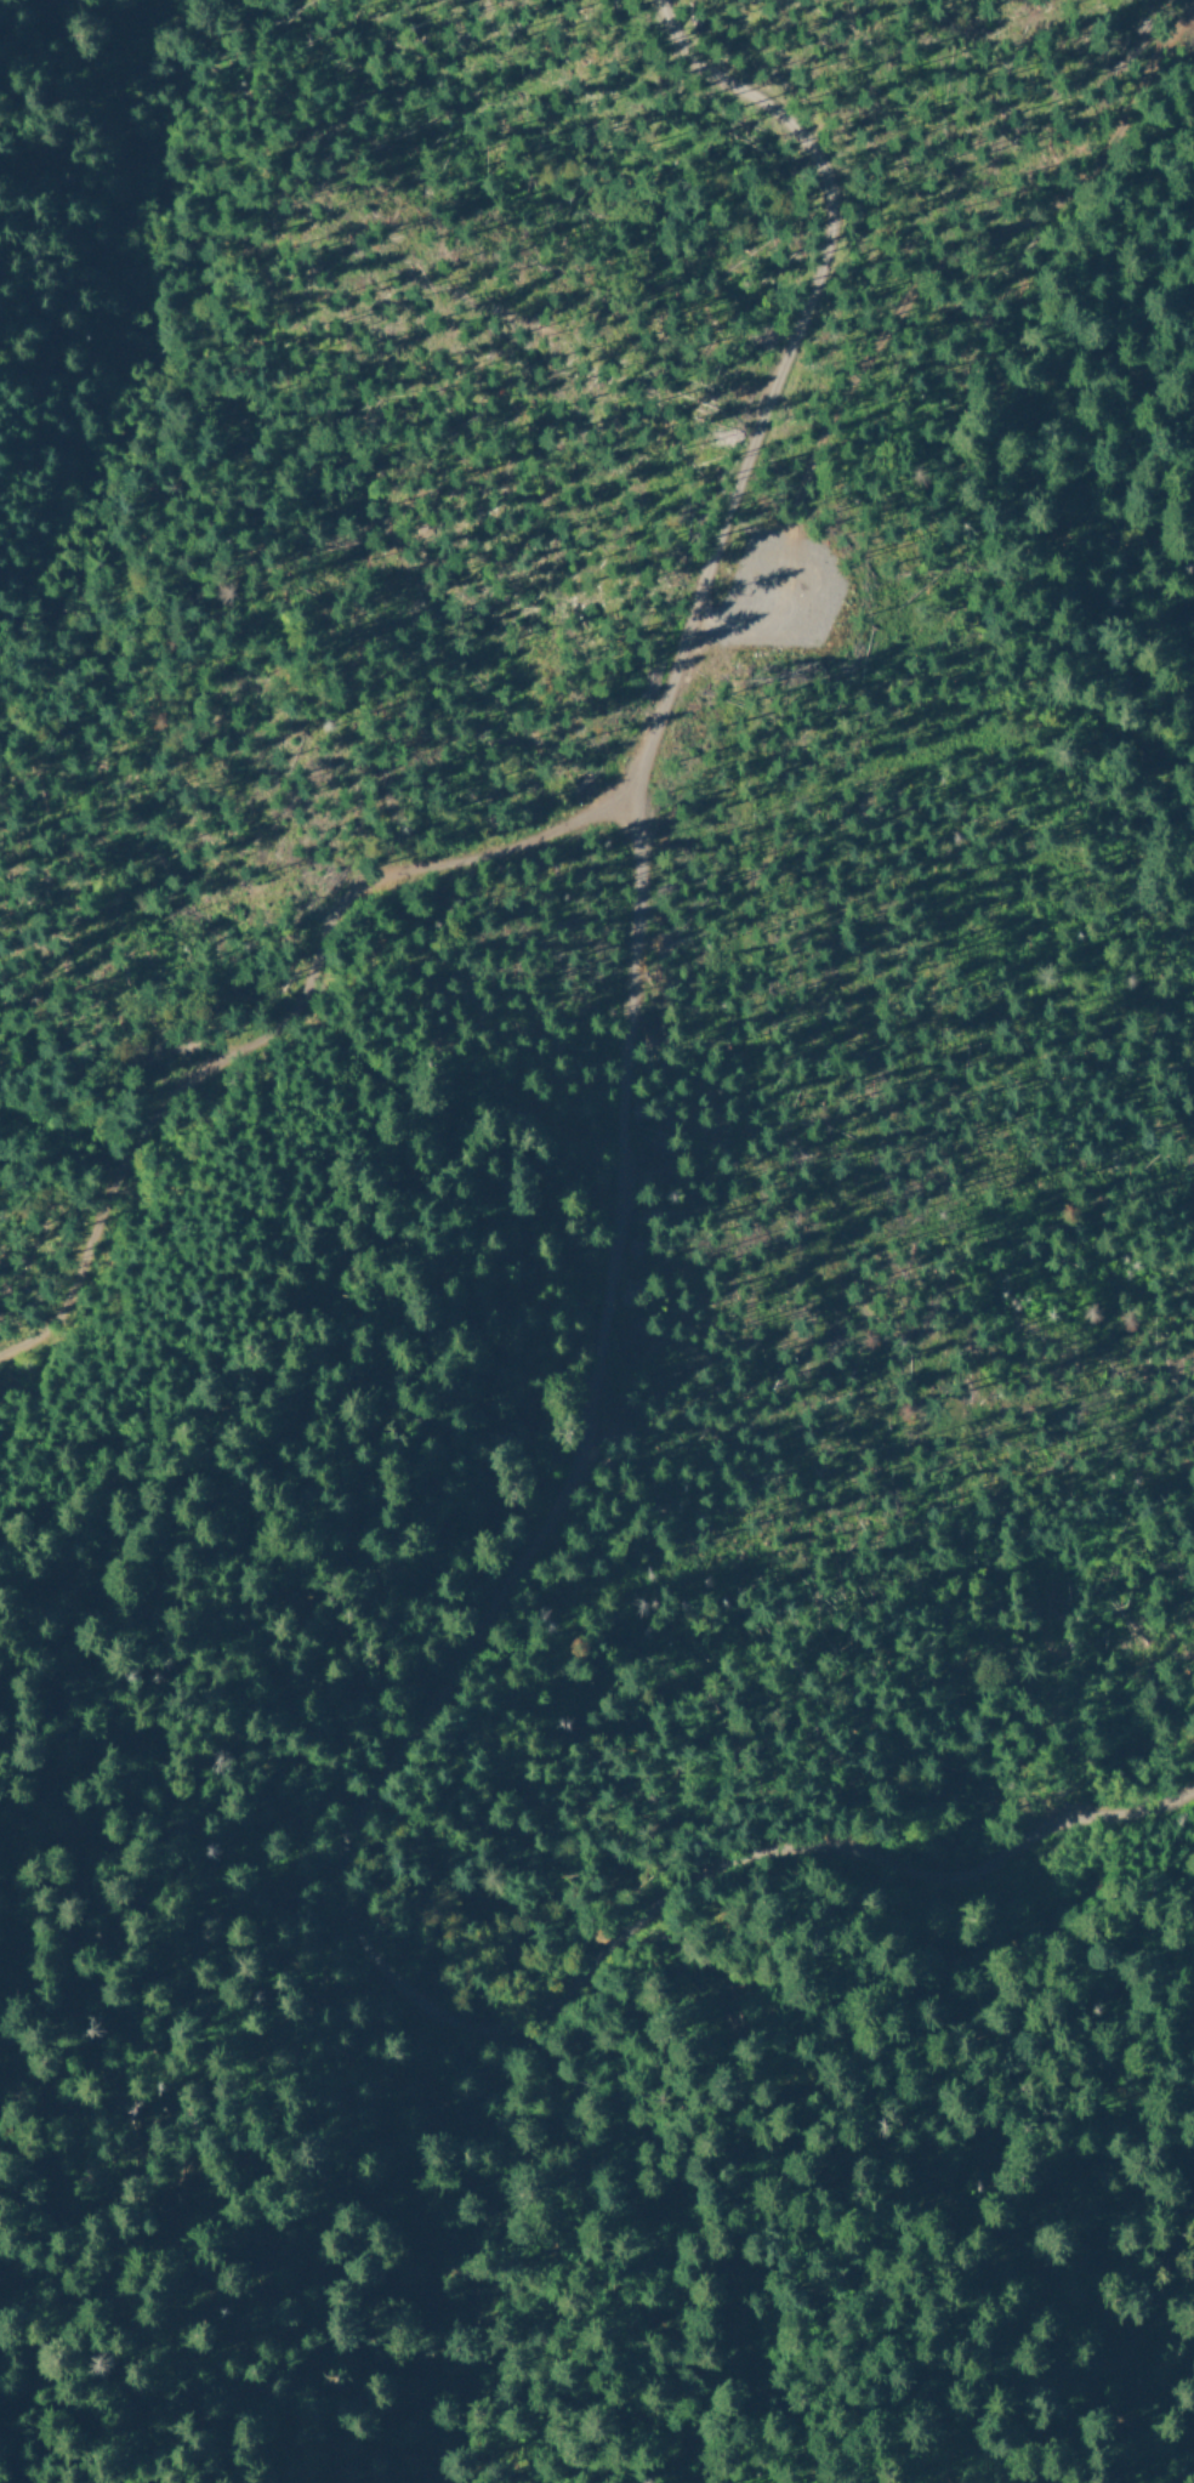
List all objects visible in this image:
road: (280, 928)
road: (572, 1426)

